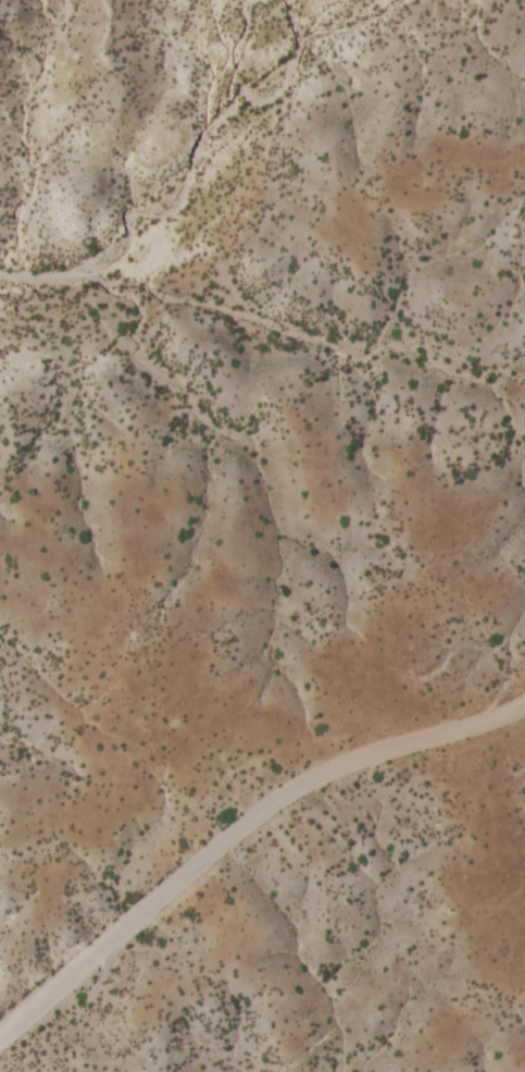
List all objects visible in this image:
road: (240, 830)

